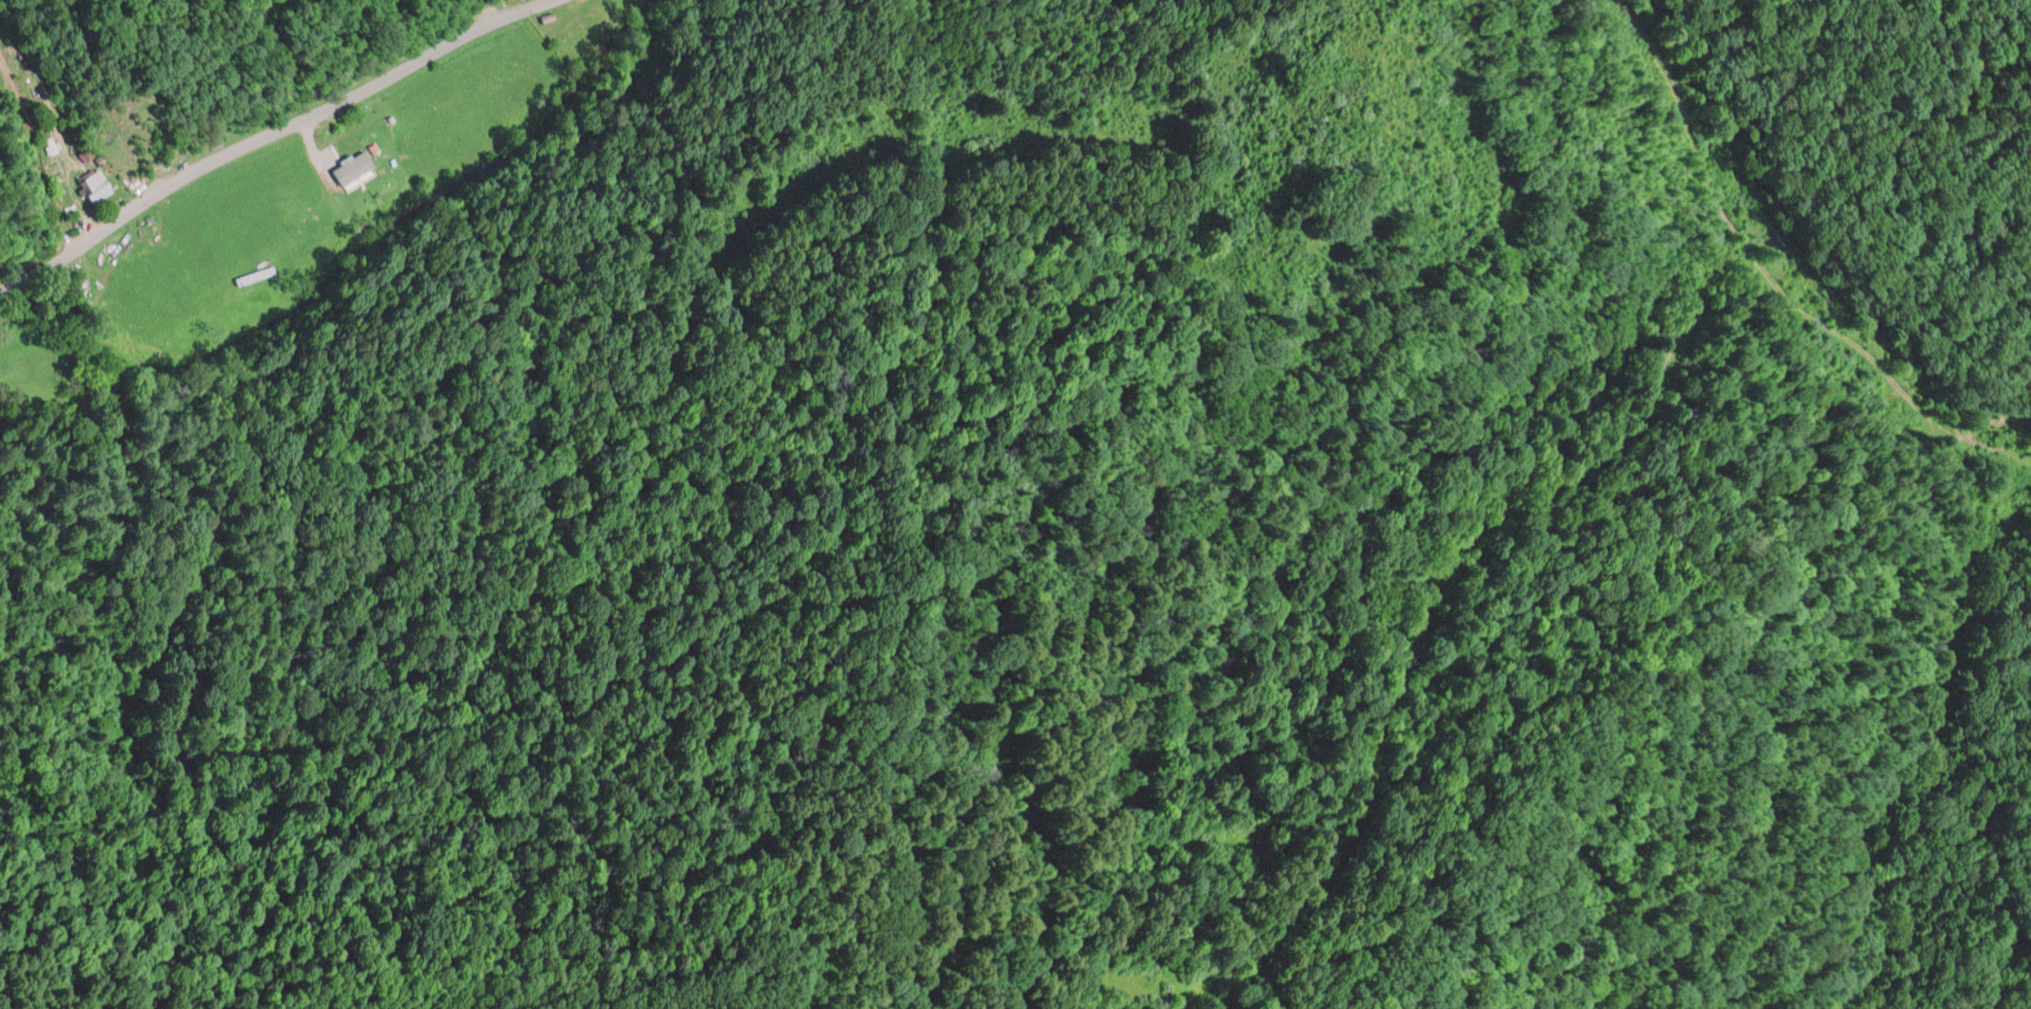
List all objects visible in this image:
road: (263, 135)
building: (95, 185)
road: (1747, 307)

